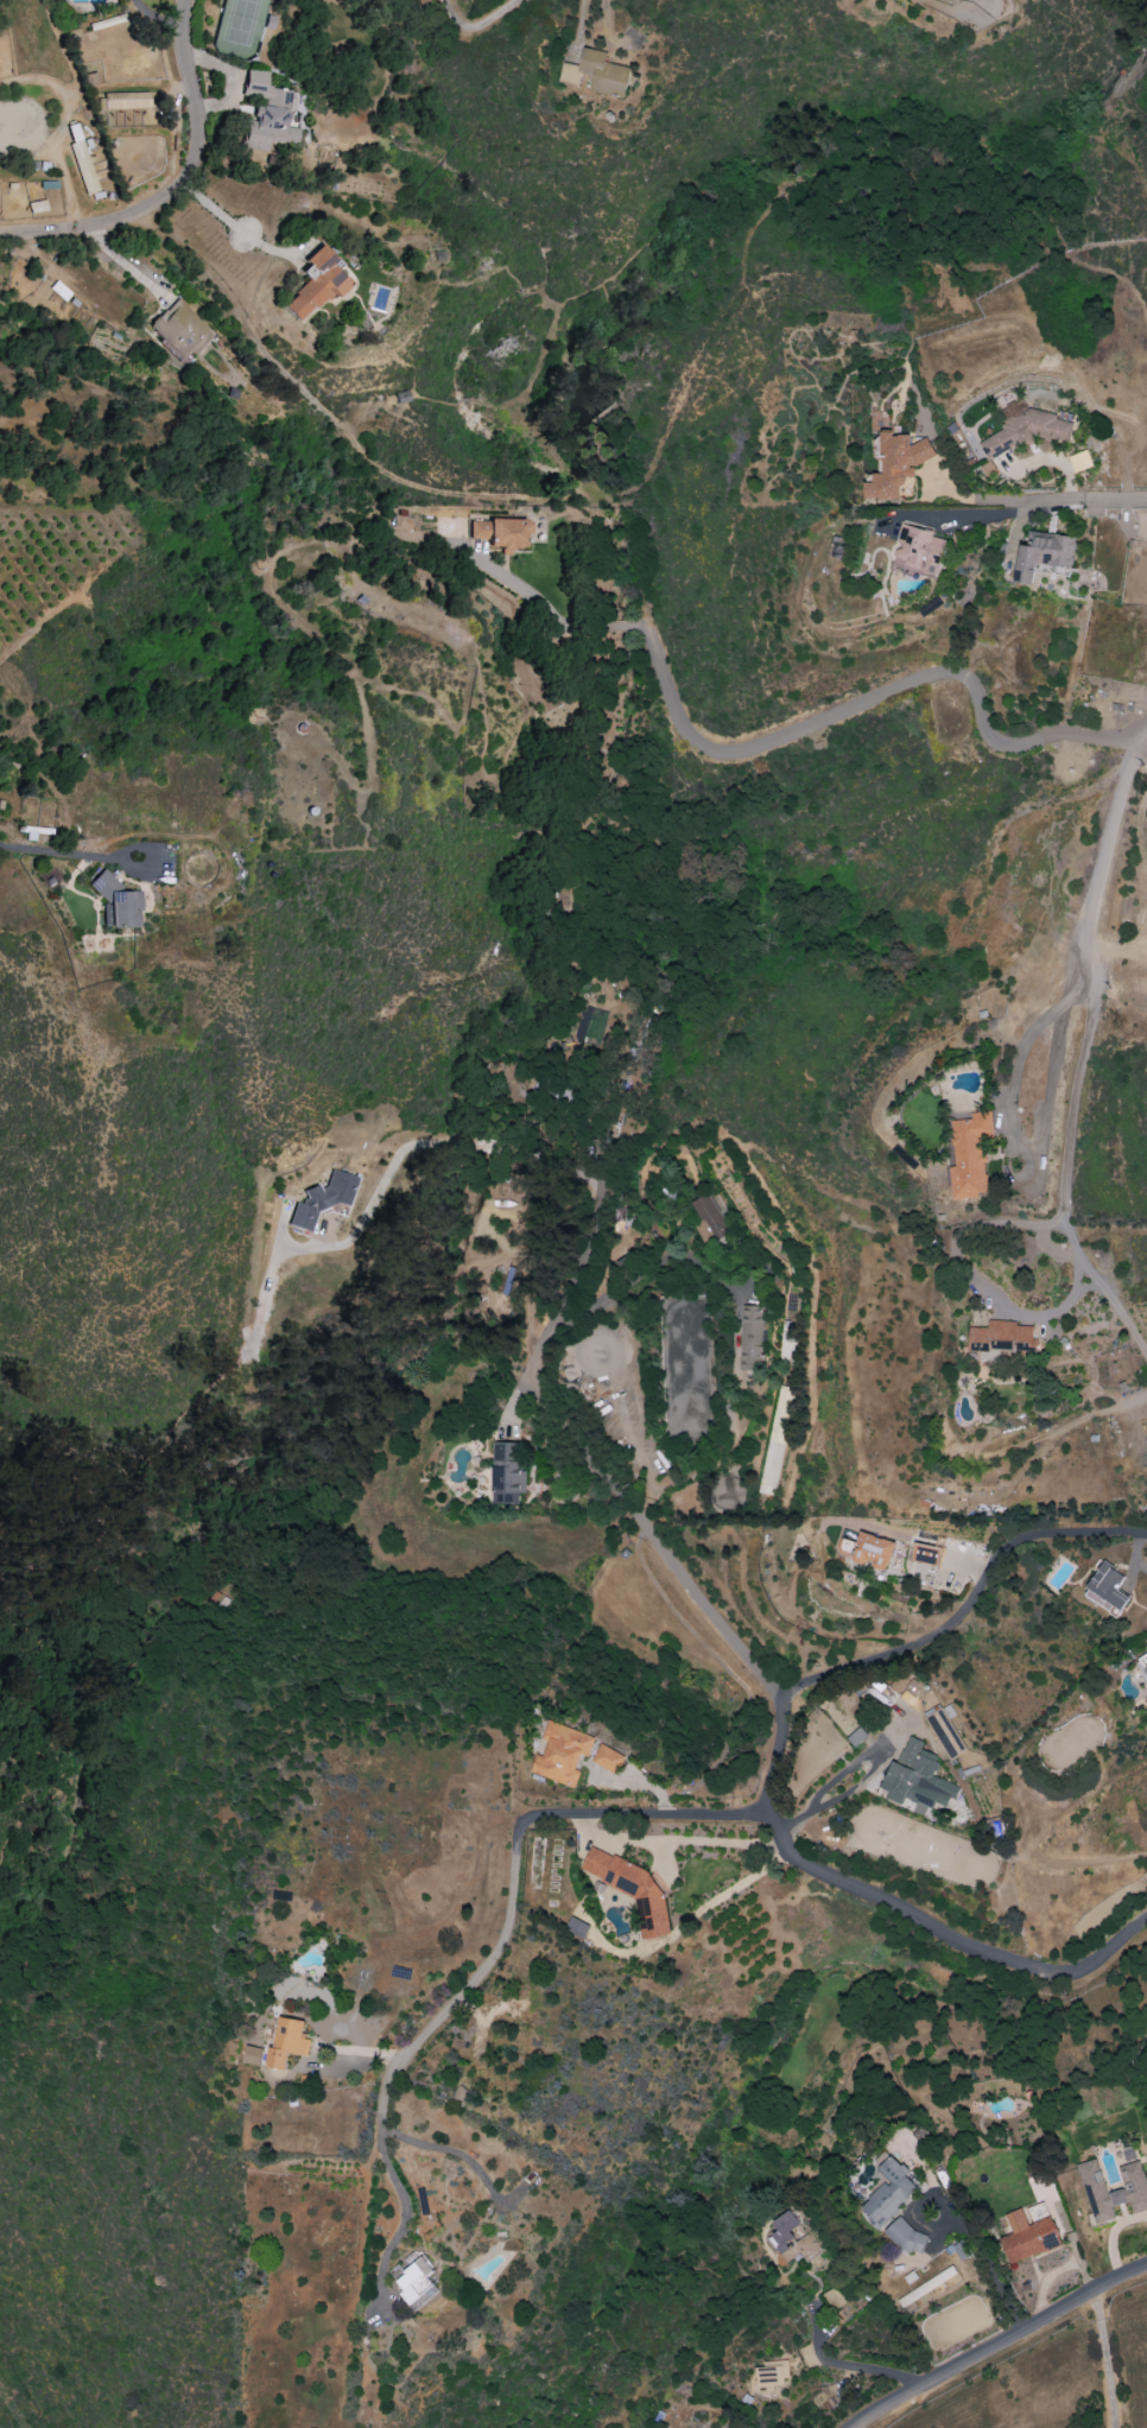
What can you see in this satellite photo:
building: (911, 0)
road: (477, 25)
building: (597, 74)
road: (186, 78)
building: (123, 102)
building: (266, 115)
road: (1102, 123)
building: (82, 160)
road: (110, 226)
road: (236, 228)
building: (317, 285)
building: (180, 331)
road: (331, 427)
building: (1025, 430)
building: (896, 465)
road: (976, 497)
road: (1090, 500)
road: (969, 515)
building: (501, 534)
building: (919, 551)
building: (1044, 554)
road: (65, 607)
road: (562, 623)
road: (864, 702)
road: (58, 852)
building: (116, 904)
road: (1082, 950)
road: (1013, 1091)
road: (419, 1143)
building: (969, 1153)
building: (323, 1200)
building: (709, 1221)
road: (636, 1267)
road: (986, 1289)
road: (1114, 1304)
building: (750, 1336)
building: (1001, 1337)
building: (777, 1440)
building: (506, 1472)
building: (869, 1549)
building: (925, 1554)
building: (1107, 1589)
road: (956, 1623)
road: (761, 1656)
building: (900, 1682)
building: (944, 1732)
building: (562, 1754)
building: (609, 1758)
building: (918, 1779)
road: (826, 1784)
road: (0, 1858)
building: (632, 1889)
building: (577, 1927)
road: (500, 1955)
building: (286, 2042)
building: (253, 2055)
building: (1129, 2155)
building: (1130, 2191)
building: (889, 2192)
building: (785, 2231)
building: (1029, 2233)
building: (906, 2236)
building: (417, 2286)
building: (836, 2303)
road: (1002, 2346)
road: (1104, 2360)
road: (850, 2366)
building: (771, 2376)

